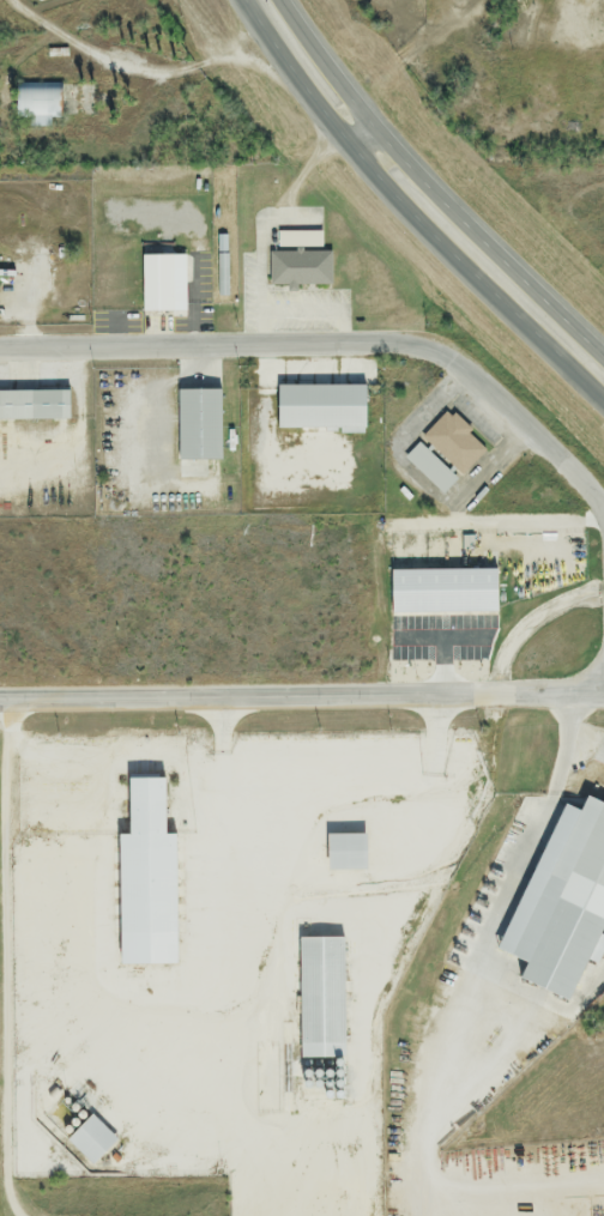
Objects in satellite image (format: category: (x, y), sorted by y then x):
building: (36, 104)
road: (362, 140)
road: (430, 192)
road: (407, 213)
building: (298, 270)
building: (162, 283)
road: (219, 346)
building: (34, 406)
road: (527, 425)
building: (197, 426)
building: (453, 444)
building: (429, 470)
road: (302, 700)
road: (586, 748)
road: (330, 791)
road: (490, 955)
road: (525, 1053)

